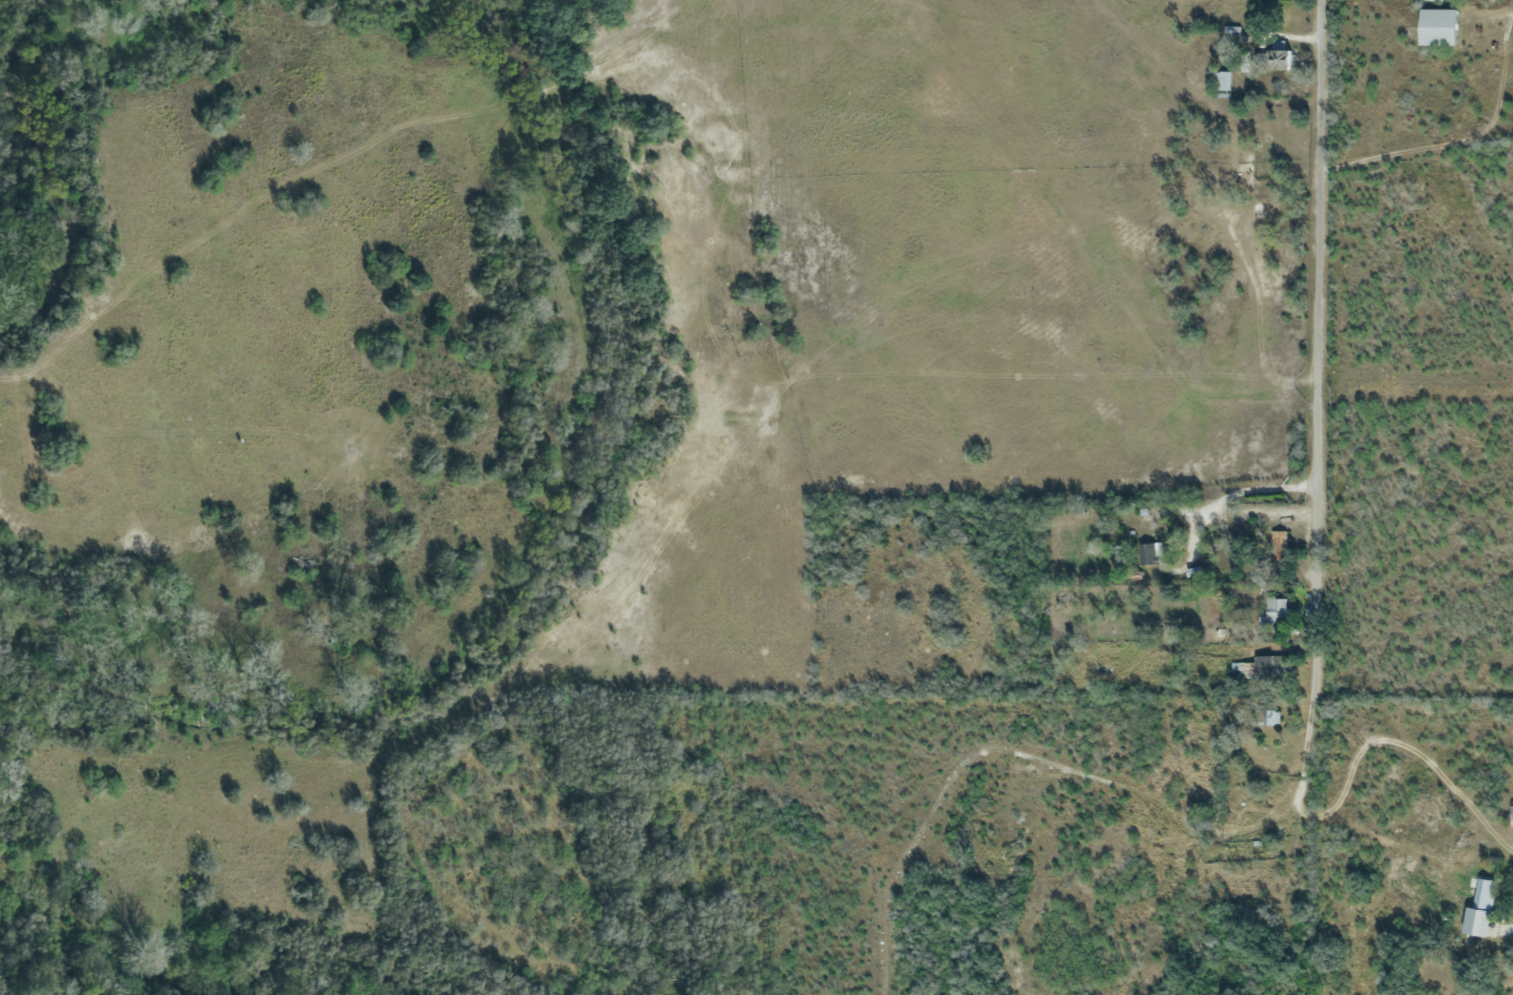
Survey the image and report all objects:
building: (1437, 27)
road: (1504, 31)
building: (1278, 57)
building: (1223, 83)
road: (1315, 344)
building: (1281, 544)
building: (1148, 553)
building: (1277, 606)
building: (1270, 665)
building: (1271, 717)
building: (1480, 908)

